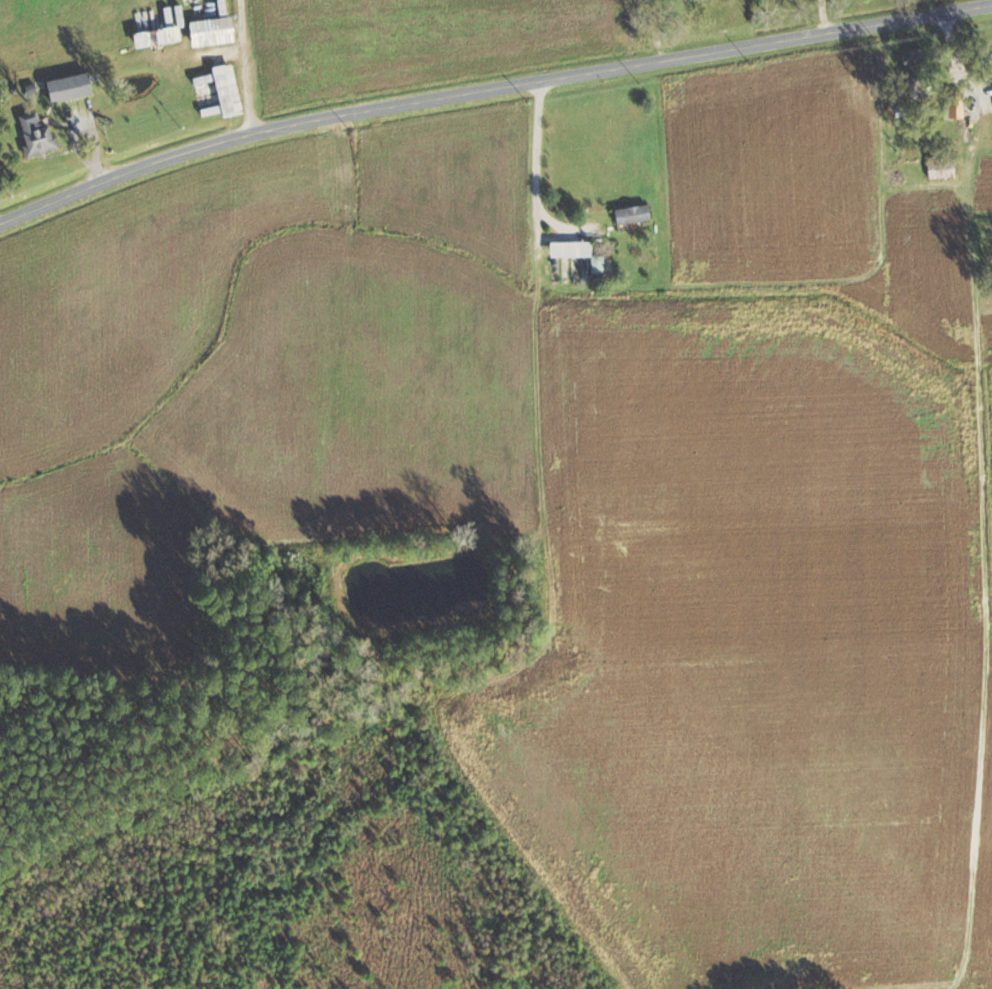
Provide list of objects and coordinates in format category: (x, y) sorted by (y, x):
building: (162, 30)
building: (210, 32)
building: (991, 57)
building: (917, 74)
road: (489, 84)
building: (68, 88)
building: (227, 90)
building: (955, 104)
building: (37, 131)
road: (530, 167)
building: (942, 168)
building: (955, 201)
building: (633, 214)
building: (570, 249)

